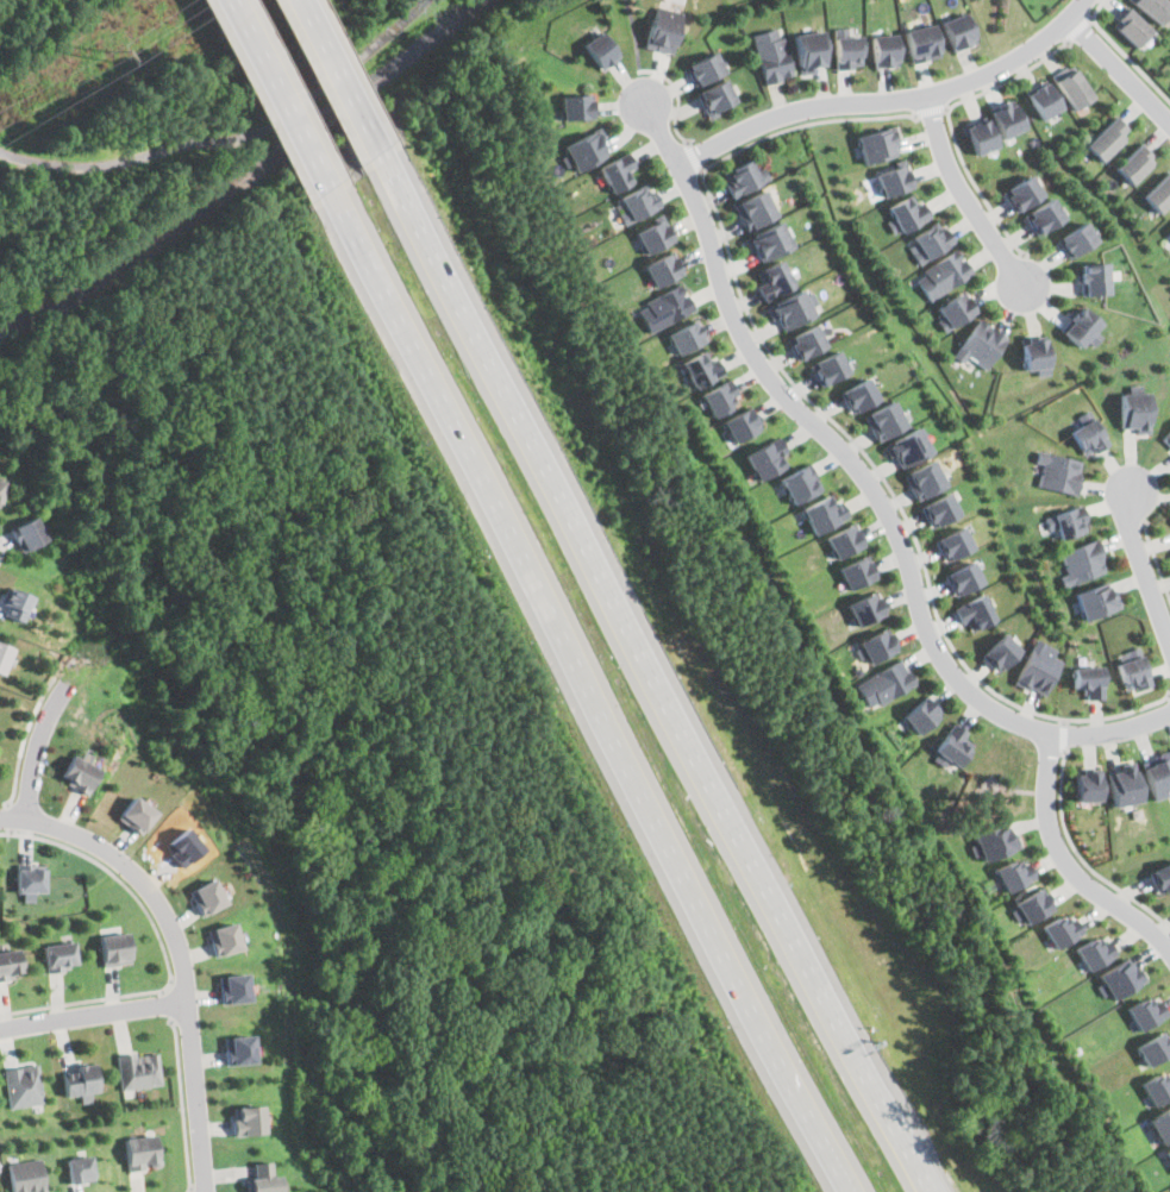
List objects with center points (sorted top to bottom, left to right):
building: (1152, 11)
road: (1081, 29)
building: (1128, 30)
building: (661, 32)
building: (955, 36)
building: (919, 46)
building: (844, 50)
building: (883, 52)
building: (809, 54)
road: (1124, 54)
building: (597, 55)
power tower: (108, 56)
building: (768, 57)
road: (636, 58)
building: (701, 70)
road: (1116, 70)
road: (1011, 77)
road: (343, 79)
building: (1069, 90)
road: (279, 98)
road: (677, 101)
road: (887, 102)
building: (1040, 103)
building: (715, 105)
road: (933, 111)
building: (574, 113)
building: (1006, 121)
road: (805, 124)
building: (1106, 136)
building: (976, 137)
road: (233, 140)
building: (870, 142)
building: (580, 153)
road: (694, 157)
building: (1133, 161)
building: (743, 174)
railway: (246, 175)
building: (614, 175)
building: (889, 177)
road: (976, 188)
building: (1158, 189)
road: (965, 194)
building: (1018, 194)
building: (637, 206)
building: (756, 209)
building: (903, 209)
building: (1043, 222)
building: (1166, 226)
building: (769, 239)
building: (930, 239)
building: (653, 240)
building: (1076, 244)
building: (945, 272)
building: (663, 274)
building: (771, 280)
building: (1093, 284)
building: (793, 306)
building: (667, 312)
building: (956, 318)
building: (1078, 332)
building: (806, 339)
building: (686, 341)
building: (982, 349)
building: (1037, 353)
building: (827, 364)
building: (701, 375)
building: (858, 389)
building: (718, 400)
building: (884, 416)
building: (1133, 416)
building: (738, 422)
building: (1166, 440)
building: (907, 444)
building: (1088, 444)
building: (762, 458)
building: (924, 476)
building: (1057, 481)
building: (794, 483)
road: (865, 483)
building: (1, 487)
road: (900, 507)
building: (937, 507)
building: (819, 510)
building: (1068, 529)
building: (26, 532)
building: (841, 537)
building: (953, 539)
road: (1, 553)
road: (1156, 558)
building: (853, 569)
road: (1143, 569)
building: (1084, 570)
building: (962, 576)
building: (17, 603)
building: (863, 606)
building: (1099, 610)
building: (972, 611)
building: (874, 641)
building: (5, 654)
building: (1000, 661)
road: (658, 675)
building: (1037, 676)
building: (1132, 676)
building: (1089, 679)
building: (883, 683)
road: (594, 694)
building: (920, 713)
road: (1065, 735)
road: (25, 739)
building: (950, 745)
road: (37, 748)
building: (79, 773)
building: (1158, 784)
building: (1088, 793)
building: (1126, 797)
building: (136, 814)
road: (8, 818)
building: (993, 841)
road: (1081, 859)
road: (1065, 866)
building: (1014, 872)
building: (1162, 877)
building: (30, 879)
building: (208, 893)
building: (1033, 904)
building: (1062, 928)
building: (224, 936)
building: (113, 947)
road: (162, 947)
building: (1095, 951)
road: (177, 953)
building: (58, 955)
building: (10, 962)
building: (1119, 978)
building: (233, 987)
road: (168, 1005)
building: (1146, 1010)
road: (93, 1014)
building: (1152, 1047)
building: (238, 1048)
building: (139, 1068)
building: (81, 1081)
building: (24, 1085)
building: (1157, 1086)
road: (184, 1105)
building: (248, 1118)
building: (1159, 1123)
building: (142, 1152)
building: (1166, 1153)
building: (81, 1168)
building: (27, 1177)
building: (263, 1178)

